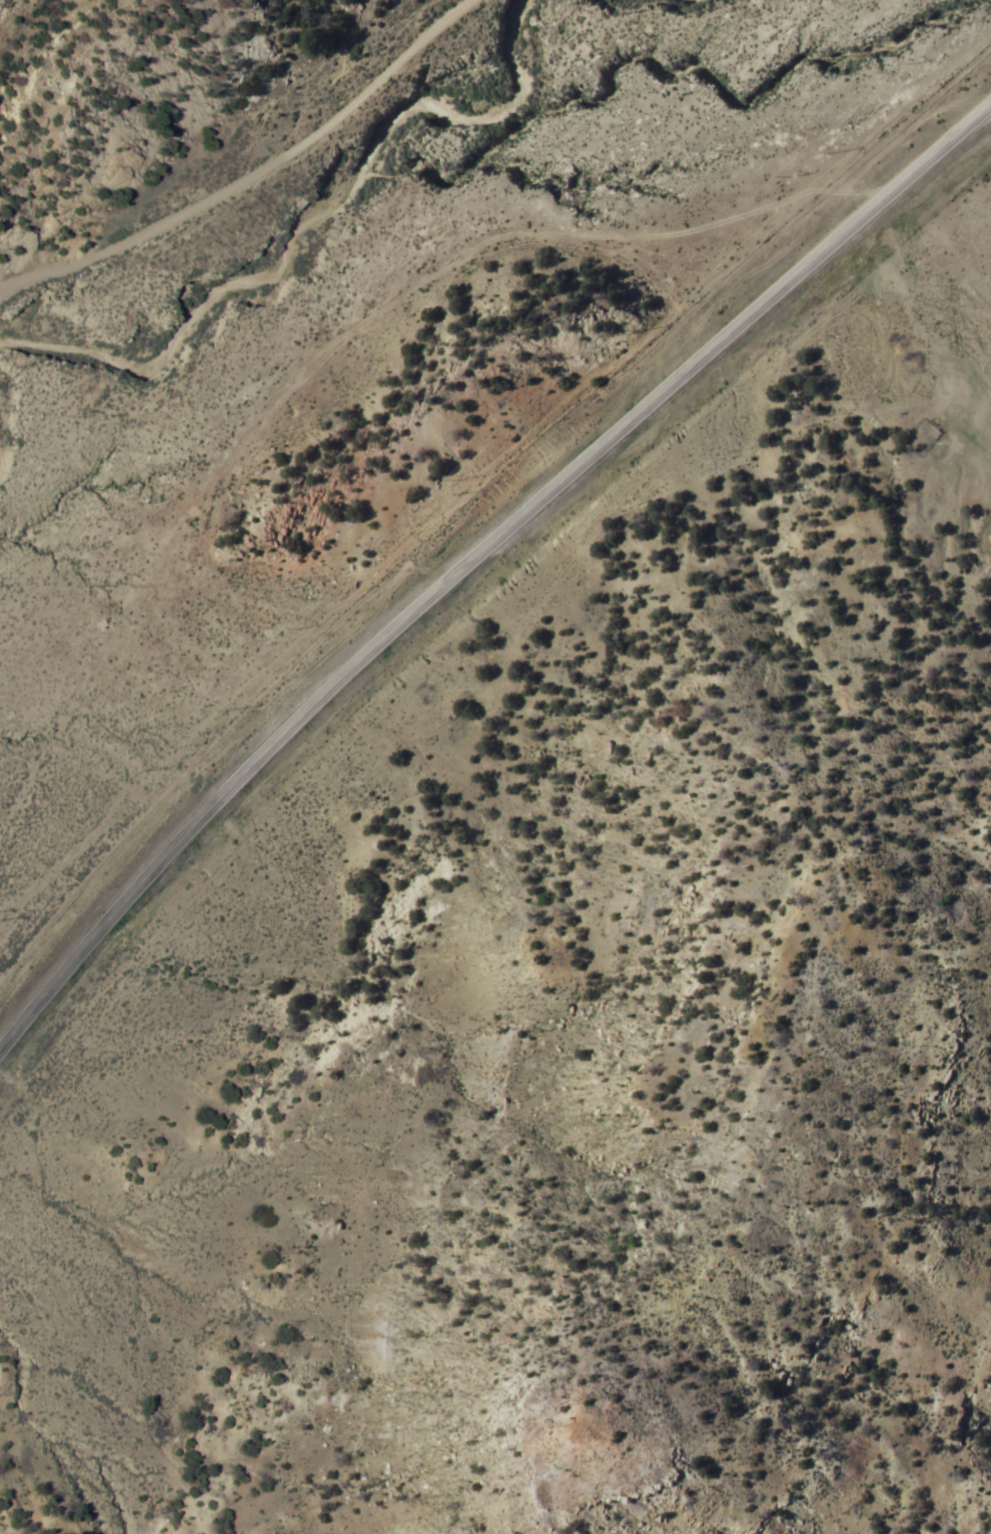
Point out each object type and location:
road: (232, 154)
road: (482, 533)

